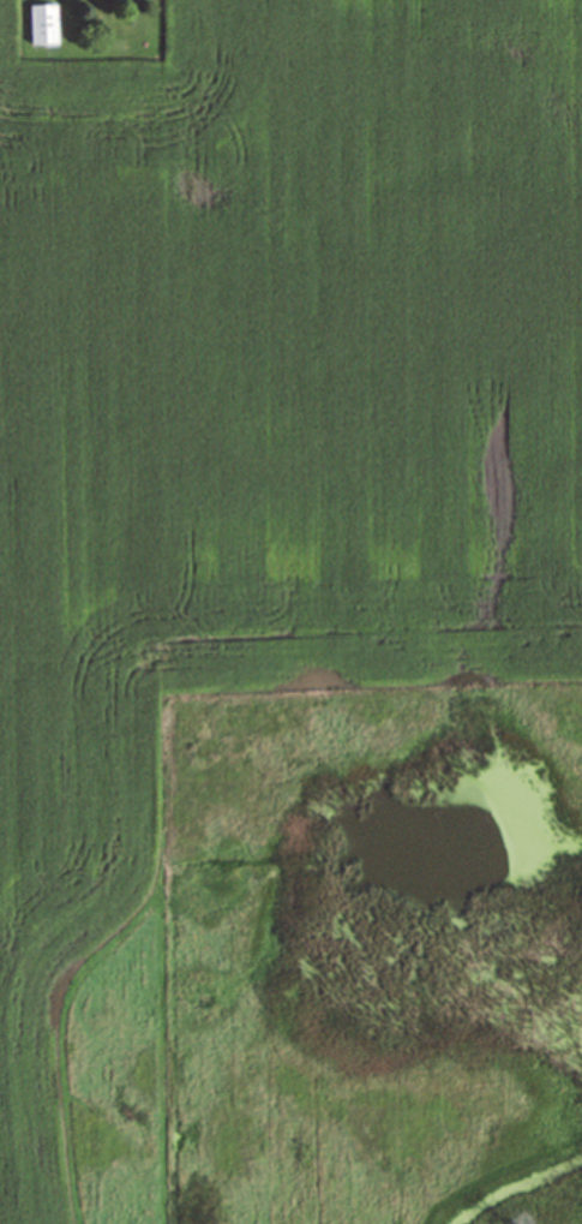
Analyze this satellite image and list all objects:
building: (42, 23)

